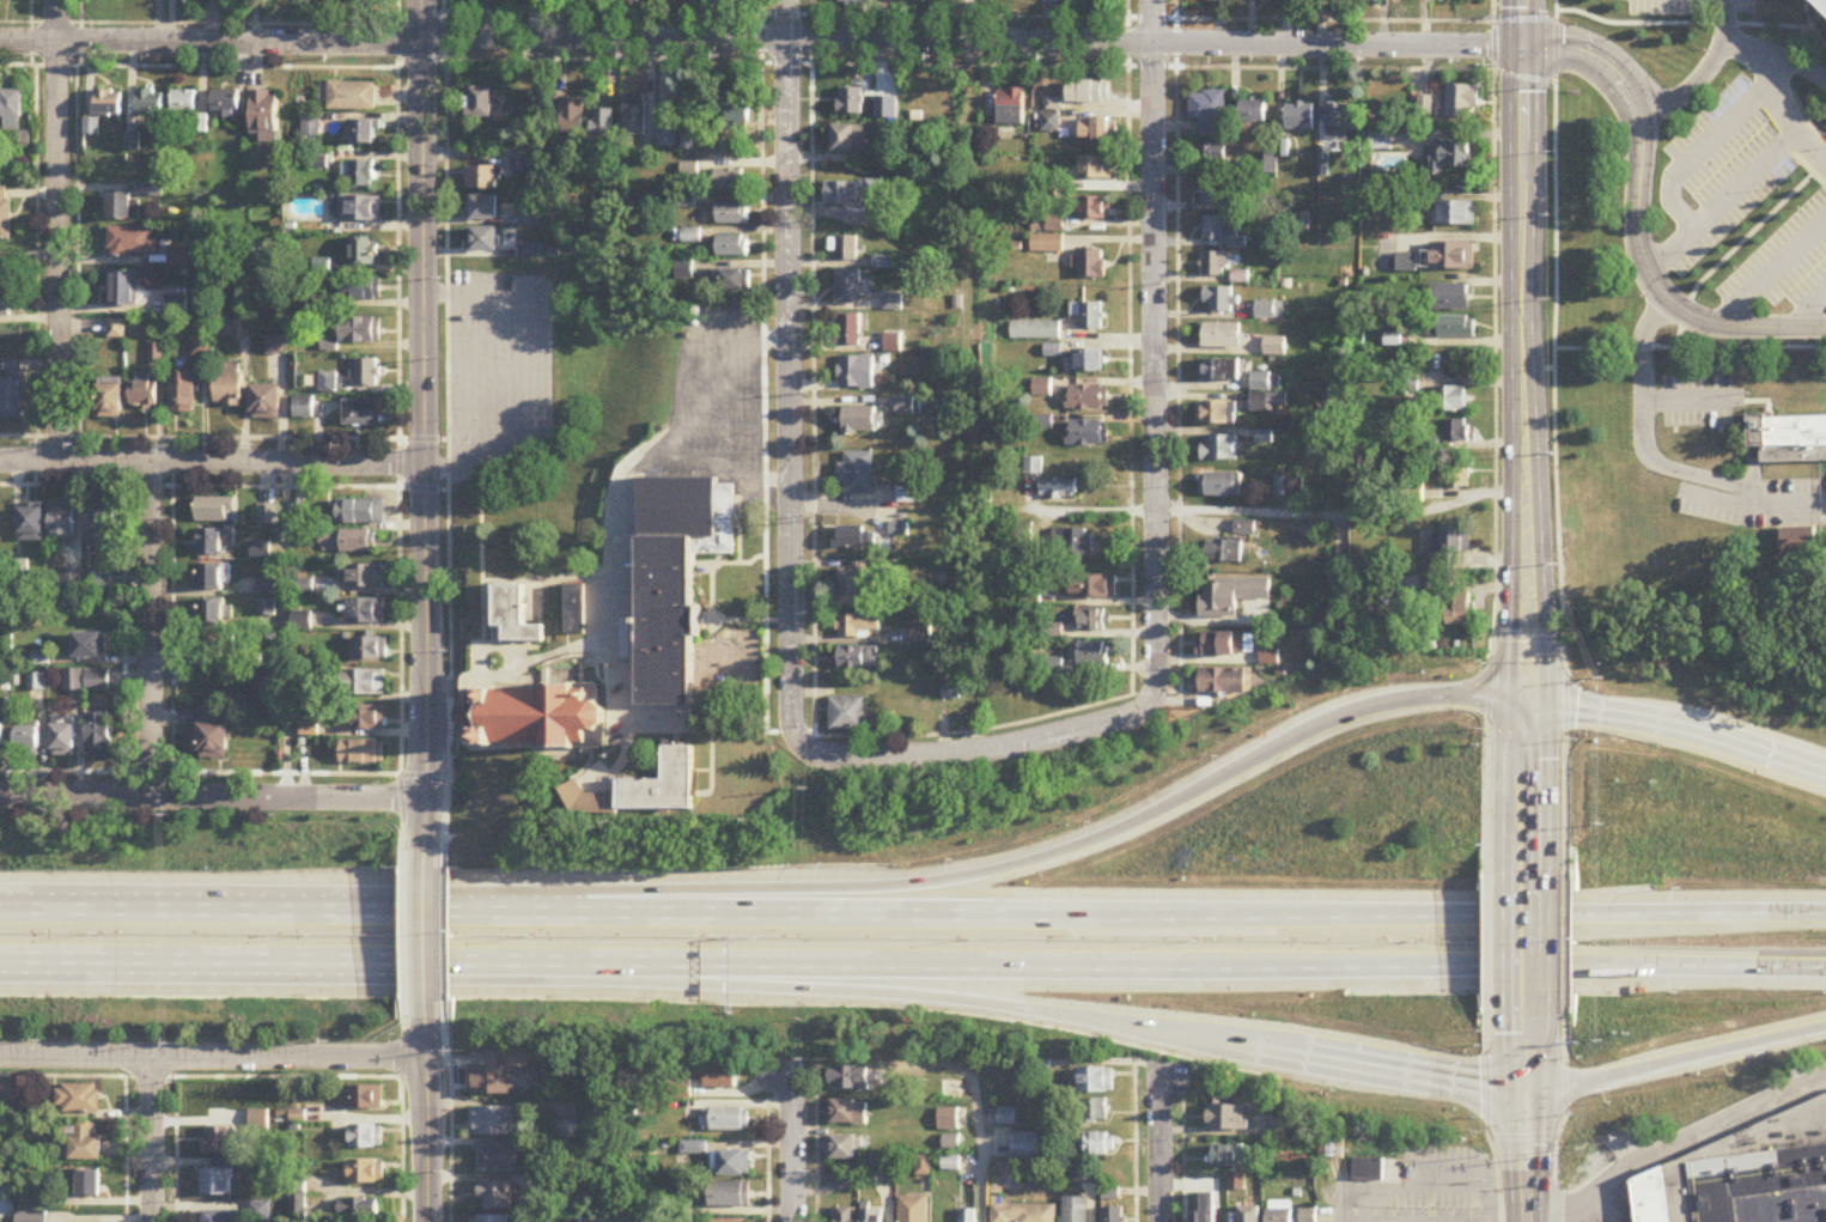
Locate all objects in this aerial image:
building: (1337, 0)
building: (1469, 0)
building: (1825, 0)
building: (632, 1)
building: (1368, 1)
building: (856, 4)
building: (1072, 4)
road: (603, 20)
road: (962, 22)
road: (1679, 25)
road: (1810, 26)
road: (760, 41)
traffic signals: (1521, 48)
road: (1593, 57)
road: (1794, 66)
road: (1706, 72)
road: (1789, 87)
building: (1090, 92)
building: (352, 96)
road: (1778, 99)
building: (184, 102)
building: (850, 102)
building: (1462, 102)
building: (108, 103)
building: (150, 103)
building: (225, 103)
building: (477, 103)
building: (1010, 107)
building: (11, 110)
building: (1209, 111)
building: (1253, 111)
building: (735, 114)
building: (264, 115)
building: (634, 115)
building: (572, 116)
building: (1299, 117)
building: (1338, 122)
building: (604, 126)
building: (1096, 129)
building: (363, 132)
building: (668, 138)
building: (848, 138)
building: (1380, 141)
road: (1700, 153)
building: (1210, 154)
building: (1453, 156)
building: (1266, 164)
road: (1804, 168)
building: (1095, 169)
building: (361, 174)
building: (483, 176)
building: (729, 182)
building: (853, 191)
building: (1216, 193)
road: (1722, 205)
building: (118, 206)
building: (481, 207)
building: (360, 208)
building: (1095, 208)
building: (5, 213)
building: (1454, 213)
building: (732, 214)
road: (61, 230)
building: (1213, 230)
building: (692, 237)
building: (483, 238)
road: (1456, 238)
building: (133, 242)
building: (1046, 245)
building: (732, 247)
road: (1736, 248)
building: (846, 249)
building: (361, 251)
building: (1451, 256)
building: (177, 257)
building: (1215, 265)
building: (1091, 266)
building: (5, 273)
road: (1771, 274)
building: (732, 279)
building: (847, 287)
building: (123, 288)
road: (1657, 288)
building: (361, 290)
building: (1449, 297)
building: (1219, 300)
building: (4, 305)
building: (176, 308)
building: (1268, 311)
road: (1808, 311)
building: (1088, 316)
building: (1455, 327)
building: (116, 329)
building: (848, 330)
building: (360, 332)
building: (1035, 333)
building: (1221, 338)
building: (893, 344)
building: (1274, 347)
building: (200, 348)
road: (1157, 348)
road: (1688, 348)
building: (154, 354)
building: (1089, 363)
road: (793, 369)
road: (477, 371)
building: (1219, 371)
road: (524, 372)
building: (856, 372)
building: (366, 373)
building: (328, 384)
building: (227, 387)
building: (11, 390)
building: (182, 393)
building: (144, 395)
building: (1266, 395)
building: (109, 399)
building: (1088, 399)
road: (1684, 399)
building: (1449, 400)
building: (263, 403)
building: (903, 407)
building: (302, 408)
building: (361, 413)
building: (1216, 414)
building: (859, 421)
road: (755, 430)
building: (1455, 431)
road: (426, 432)
building: (1087, 434)
road: (1495, 436)
road: (1524, 436)
road: (1553, 436)
road: (676, 438)
building: (1789, 439)
building: (1218, 449)
road: (213, 463)
road: (1657, 464)
building: (1031, 467)
building: (856, 474)
building: (1457, 474)
building: (1218, 486)
building: (1058, 490)
building: (214, 510)
building: (359, 512)
road: (1344, 513)
building: (268, 516)
building: (62, 522)
building: (31, 524)
building: (99, 529)
building: (1244, 529)
building: (854, 537)
building: (213, 541)
building: (348, 542)
building: (1075, 542)
building: (1795, 542)
building: (1451, 549)
building: (261, 551)
building: (1225, 552)
building: (214, 577)
building: (365, 577)
building: (675, 578)
building: (101, 583)
building: (266, 586)
building: (1092, 586)
building: (850, 588)
building: (1230, 596)
building: (574, 610)
building: (1460, 610)
building: (365, 612)
building: (213, 613)
building: (512, 618)
building: (1092, 620)
building: (857, 626)
road: (148, 630)
road: (287, 630)
road: (1529, 642)
building: (90, 645)
building: (1225, 645)
building: (215, 648)
building: (370, 650)
building: (1090, 653)
building: (854, 658)
building: (74, 680)
building: (98, 680)
building: (1222, 682)
building: (263, 683)
building: (363, 683)
traffic signals: (1528, 700)
building: (847, 715)
building: (535, 717)
building: (366, 718)
road: (1679, 729)
building: (2, 736)
building: (101, 736)
building: (212, 736)
building: (65, 738)
building: (29, 741)
road: (981, 750)
building: (361, 753)
building: (644, 790)
road: (213, 796)
road: (1018, 864)
road: (834, 913)
road: (1748, 917)
road: (427, 929)
road: (1566, 943)
road: (1527, 944)
road: (1489, 946)
road: (728, 966)
road: (1642, 969)
road: (783, 986)
road: (213, 1059)
road: (1676, 1062)
road: (1378, 1064)
building: (498, 1076)
building: (722, 1077)
building: (856, 1078)
building: (1096, 1081)
building: (952, 1090)
traffic signals: (1528, 1090)
building: (361, 1098)
building: (78, 1100)
road: (427, 1106)
building: (1094, 1112)
building: (846, 1113)
building: (1006, 1117)
road: (978, 1118)
building: (1227, 1118)
building: (725, 1119)
road: (1565, 1119)
building: (948, 1120)
road: (1489, 1120)
road: (1528, 1120)
building: (492, 1121)
road: (1716, 1127)
building: (366, 1137)
road: (1523, 1138)
road: (154, 1141)
building: (219, 1141)
building: (84, 1143)
building: (950, 1143)
building: (1100, 1144)
building: (1023, 1147)
building: (840, 1148)
road: (1159, 1148)
road: (796, 1149)
building: (1232, 1157)
building: (497, 1159)
building: (735, 1165)
building: (950, 1165)
building: (1368, 1169)
building: (366, 1172)
building: (1084, 1174)
building: (1733, 1174)
building: (217, 1183)
building: (89, 1185)
building: (1110, 1194)
building: (494, 1196)
building: (730, 1196)
road: (1607, 1203)
road: (1571, 1204)
building: (359, 1210)
building: (912, 1210)
building: (1075, 1210)
building: (1279, 1211)
building: (1023, 1214)
building: (1249, 1214)
road: (1566, 1214)
building: (844, 1215)
building: (1112, 1215)
building: (1308, 1215)
building: (871, 1216)
building: (968, 1216)
building: (489, 1220)
road: (1440, 1220)
building: (726, 1221)

